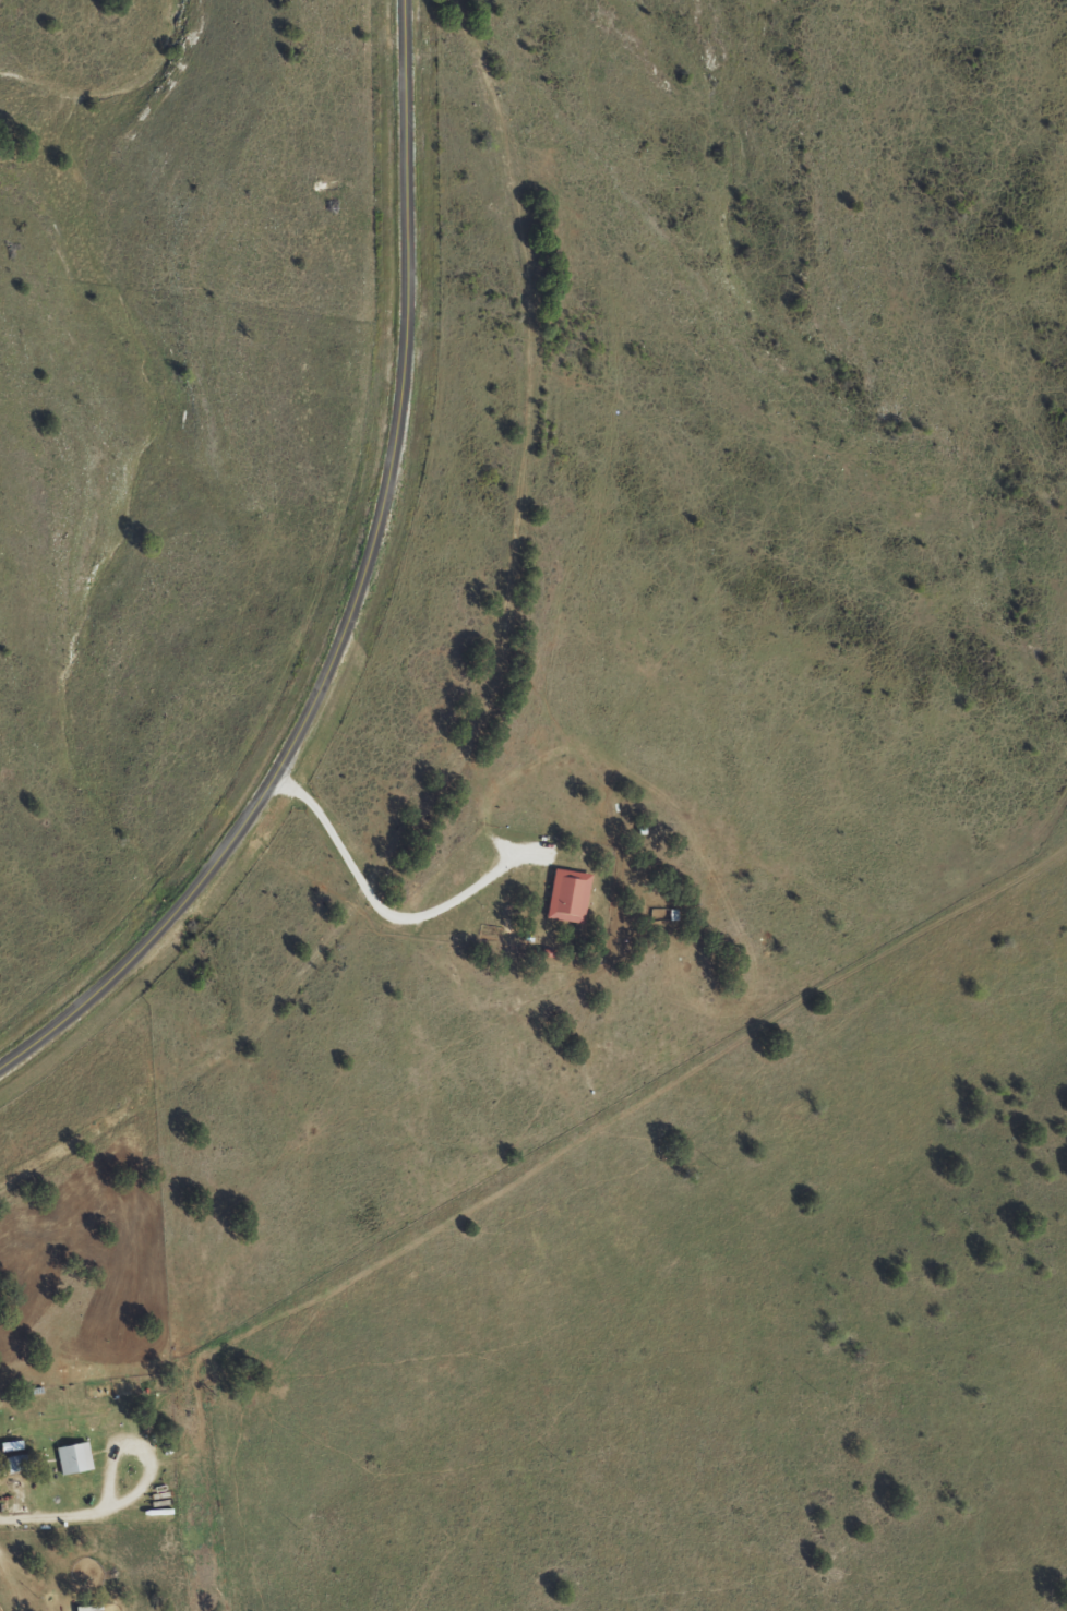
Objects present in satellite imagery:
road: (357, 596)
building: (74, 1457)
building: (14, 1463)
building: (89, 1608)

